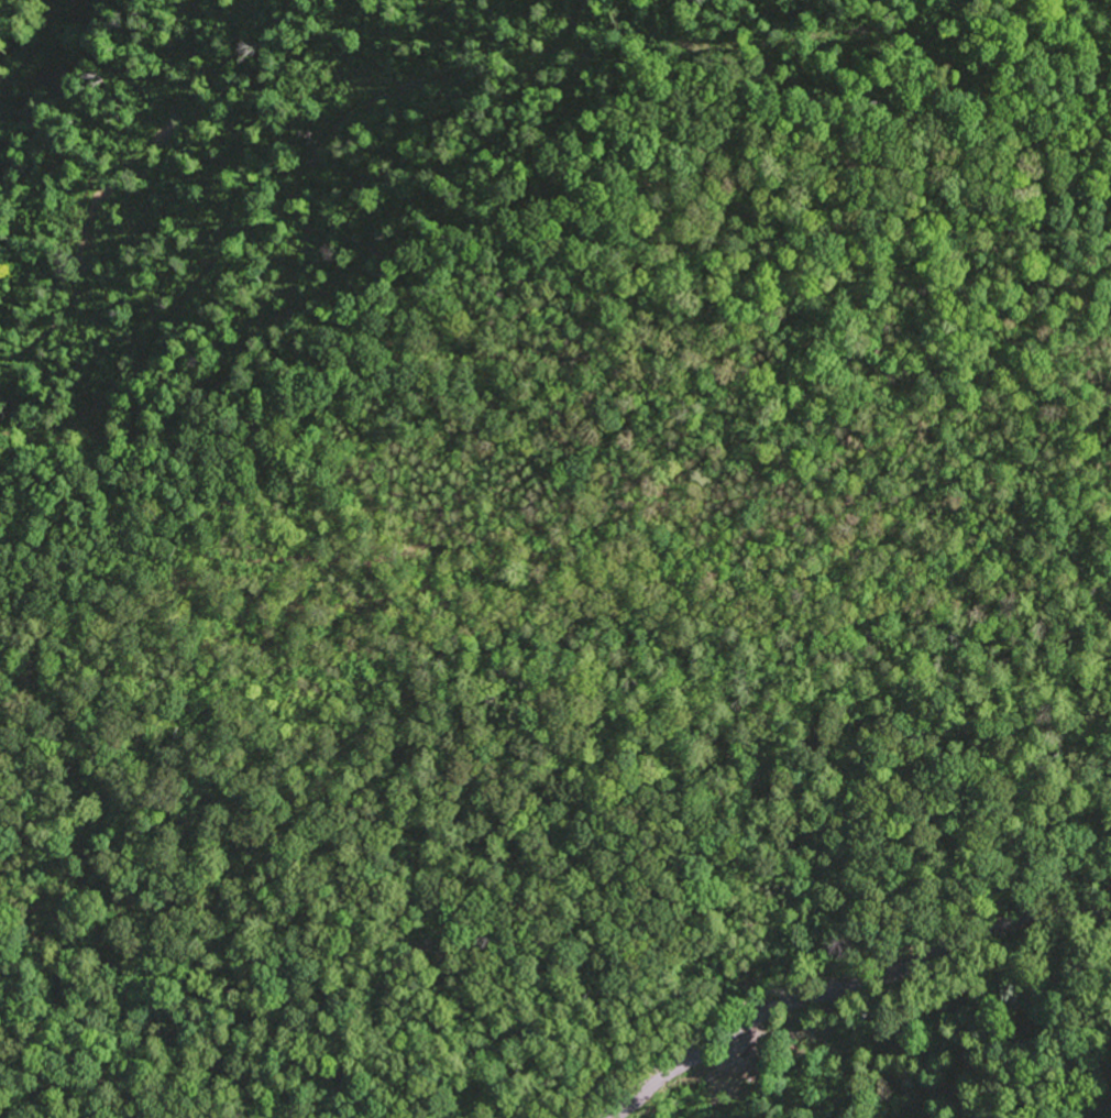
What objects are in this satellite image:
road: (850, 986)

